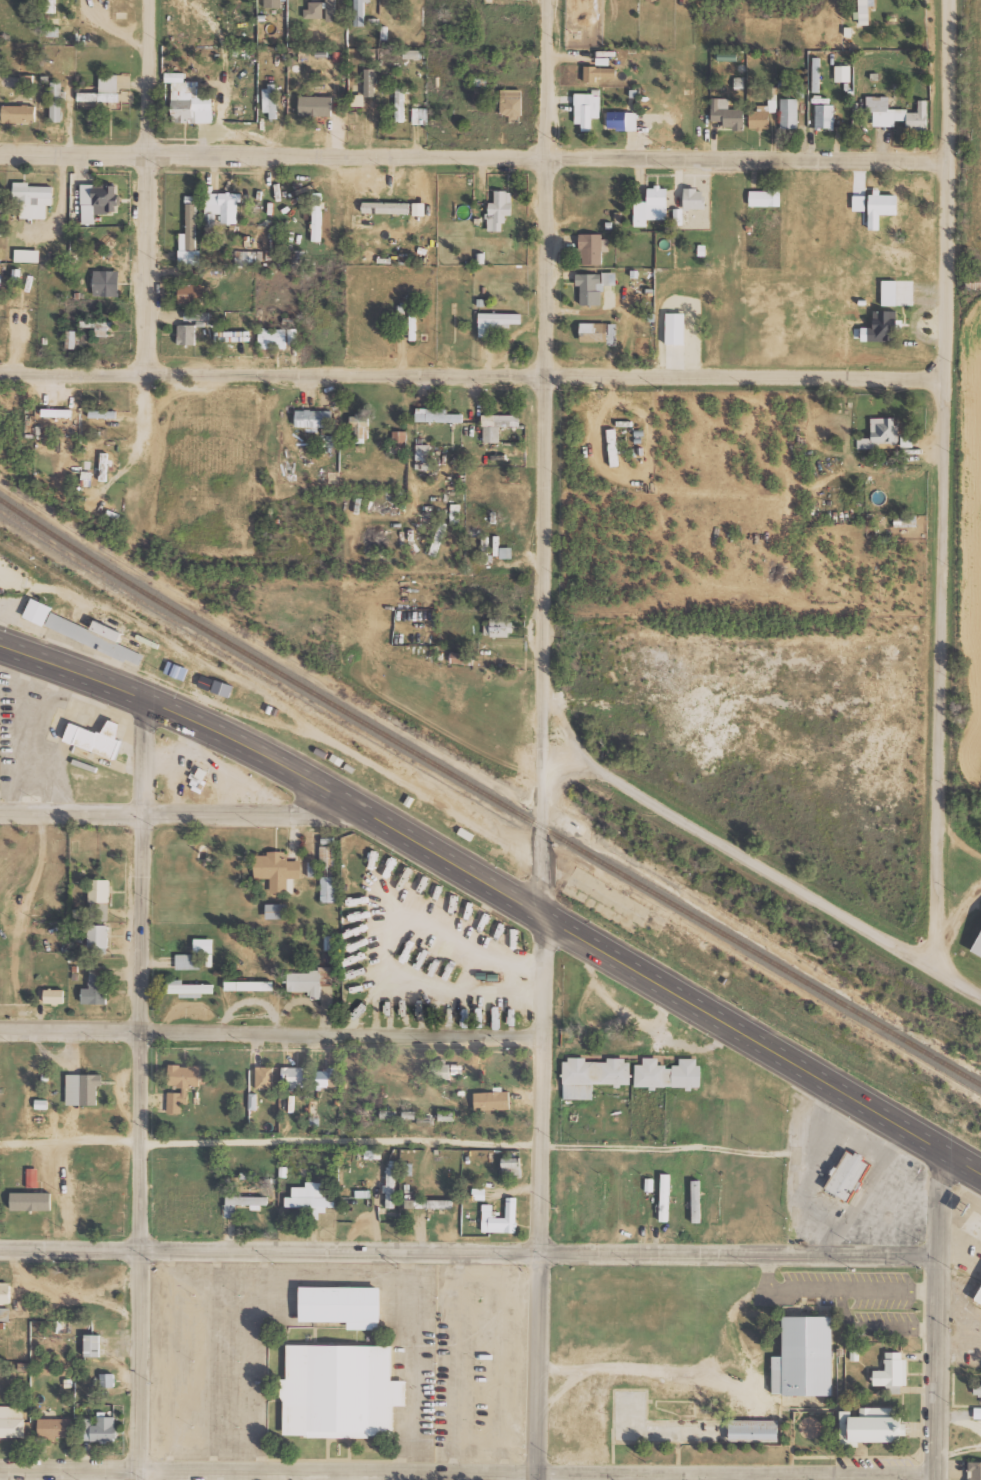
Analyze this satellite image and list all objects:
building: (652, 0)
building: (51, 6)
building: (315, 9)
building: (331, 10)
building: (864, 11)
building: (359, 12)
building: (413, 53)
building: (602, 60)
building: (598, 72)
building: (843, 73)
building: (816, 74)
building: (102, 93)
building: (188, 100)
building: (270, 100)
building: (56, 101)
building: (400, 104)
building: (511, 104)
building: (316, 105)
building: (586, 109)
building: (18, 113)
building: (727, 113)
building: (789, 113)
building: (897, 113)
building: (420, 115)
building: (762, 115)
building: (824, 115)
building: (622, 120)
road: (476, 155)
building: (765, 197)
building: (694, 198)
building: (32, 199)
building: (98, 200)
building: (223, 205)
building: (652, 206)
building: (386, 207)
building: (881, 207)
road: (148, 208)
building: (499, 210)
building: (317, 216)
building: (189, 239)
building: (592, 248)
building: (27, 255)
building: (213, 271)
building: (973, 281)
building: (106, 282)
building: (594, 286)
building: (897, 292)
building: (190, 293)
building: (195, 315)
building: (496, 321)
building: (98, 326)
building: (882, 326)
building: (675, 328)
building: (186, 334)
building: (71, 338)
building: (272, 338)
road: (475, 374)
building: (103, 413)
building: (437, 415)
building: (314, 418)
building: (360, 425)
building: (497, 425)
building: (880, 433)
building: (399, 438)
building: (612, 446)
building: (422, 452)
road: (949, 482)
building: (455, 513)
building: (905, 520)
building: (441, 530)
building: (506, 552)
building: (39, 611)
building: (501, 627)
building: (107, 630)
building: (94, 639)
building: (462, 658)
building: (222, 688)
building: (96, 738)
road: (545, 739)
building: (197, 778)
railway: (488, 794)
road: (183, 810)
building: (327, 856)
road: (766, 866)
building: (278, 871)
road: (478, 876)
building: (330, 889)
building: (99, 900)
road: (959, 910)
building: (277, 911)
building: (98, 939)
building: (204, 945)
building: (980, 949)
building: (188, 961)
building: (309, 981)
building: (96, 986)
building: (190, 989)
building: (54, 997)
road: (271, 1031)
building: (441, 1071)
building: (668, 1074)
building: (296, 1076)
building: (593, 1076)
building: (265, 1077)
building: (327, 1077)
building: (183, 1084)
road: (144, 1088)
building: (83, 1089)
building: (492, 1101)
building: (409, 1114)
building: (446, 1115)
road: (391, 1146)
road: (961, 1155)
building: (511, 1167)
building: (408, 1169)
building: (849, 1174)
building: (32, 1177)
building: (390, 1187)
building: (312, 1197)
building: (665, 1197)
building: (31, 1201)
building: (696, 1201)
building: (243, 1203)
building: (501, 1218)
road: (469, 1251)
building: (5, 1292)
building: (980, 1301)
building: (345, 1305)
road: (939, 1311)
building: (4, 1313)
building: (92, 1345)
building: (808, 1356)
building: (891, 1373)
building: (107, 1379)
building: (977, 1389)
building: (344, 1390)
building: (977, 1412)
building: (12, 1419)
building: (685, 1424)
building: (881, 1425)
building: (55, 1428)
building: (100, 1429)
building: (975, 1470)
road: (469, 1474)
road: (631, 1477)
road: (832, 1477)
road: (742, 1478)

